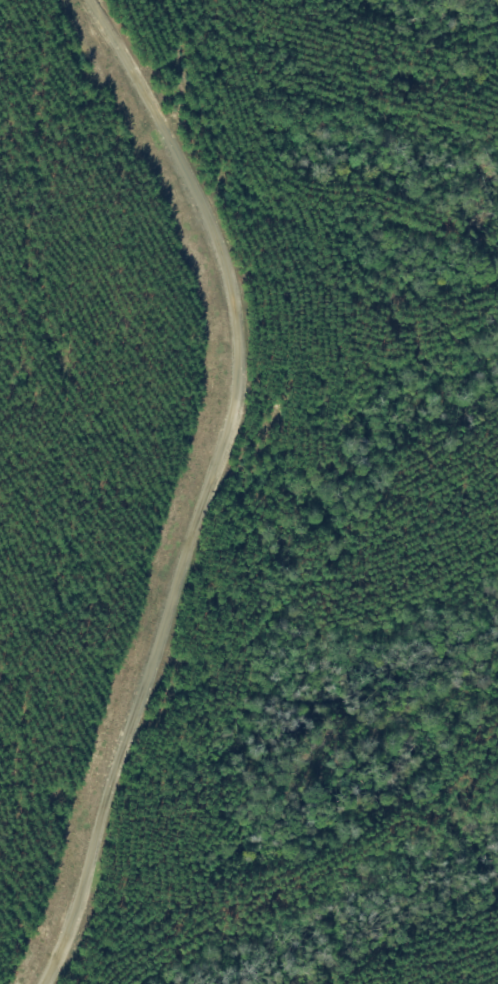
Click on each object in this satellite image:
road: (128, 440)

